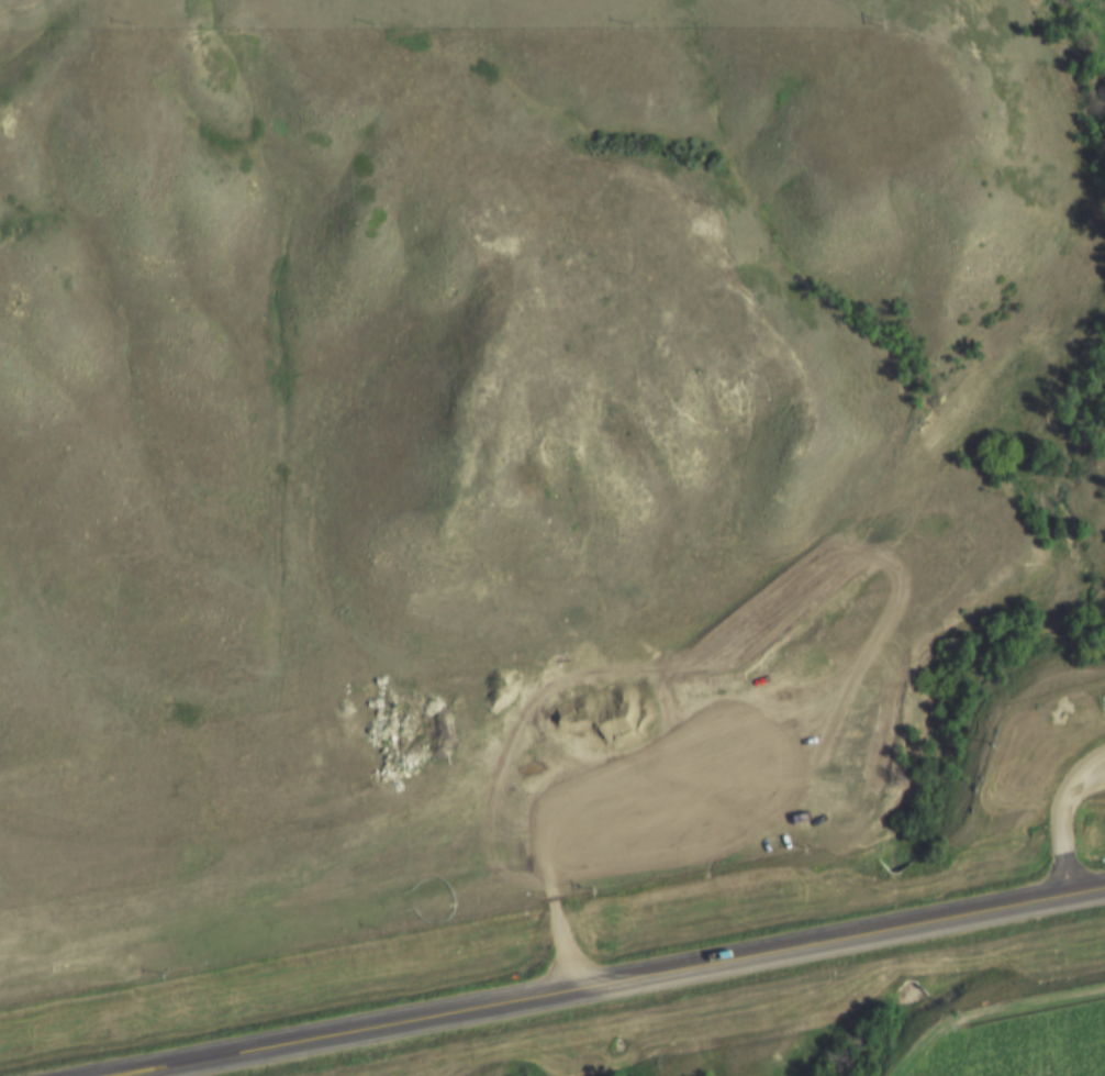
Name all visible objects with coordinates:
building: (708, 626)
building: (730, 656)
road: (1068, 822)
road: (624, 980)
road: (989, 1008)

